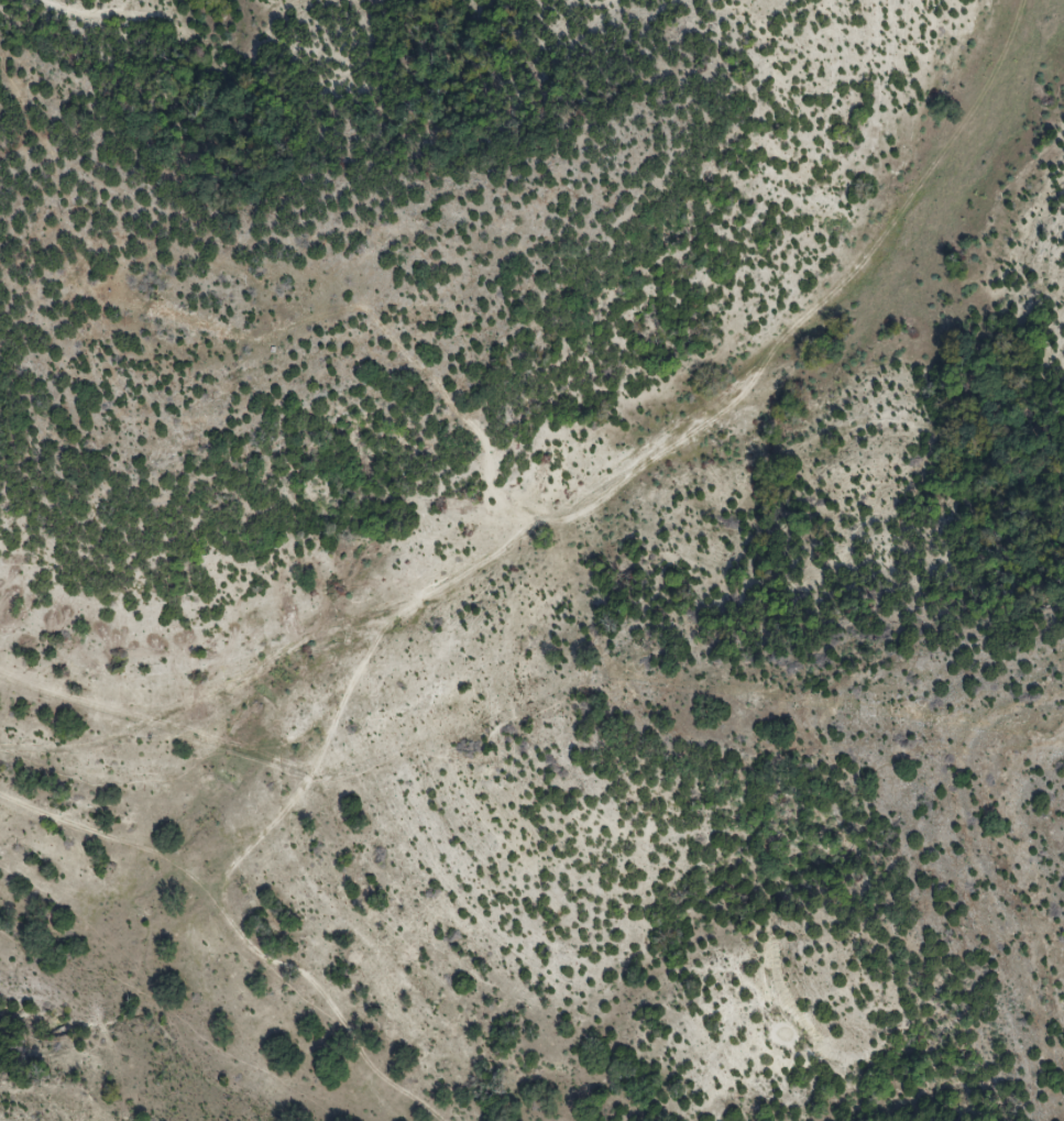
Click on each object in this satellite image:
road: (223, 938)

